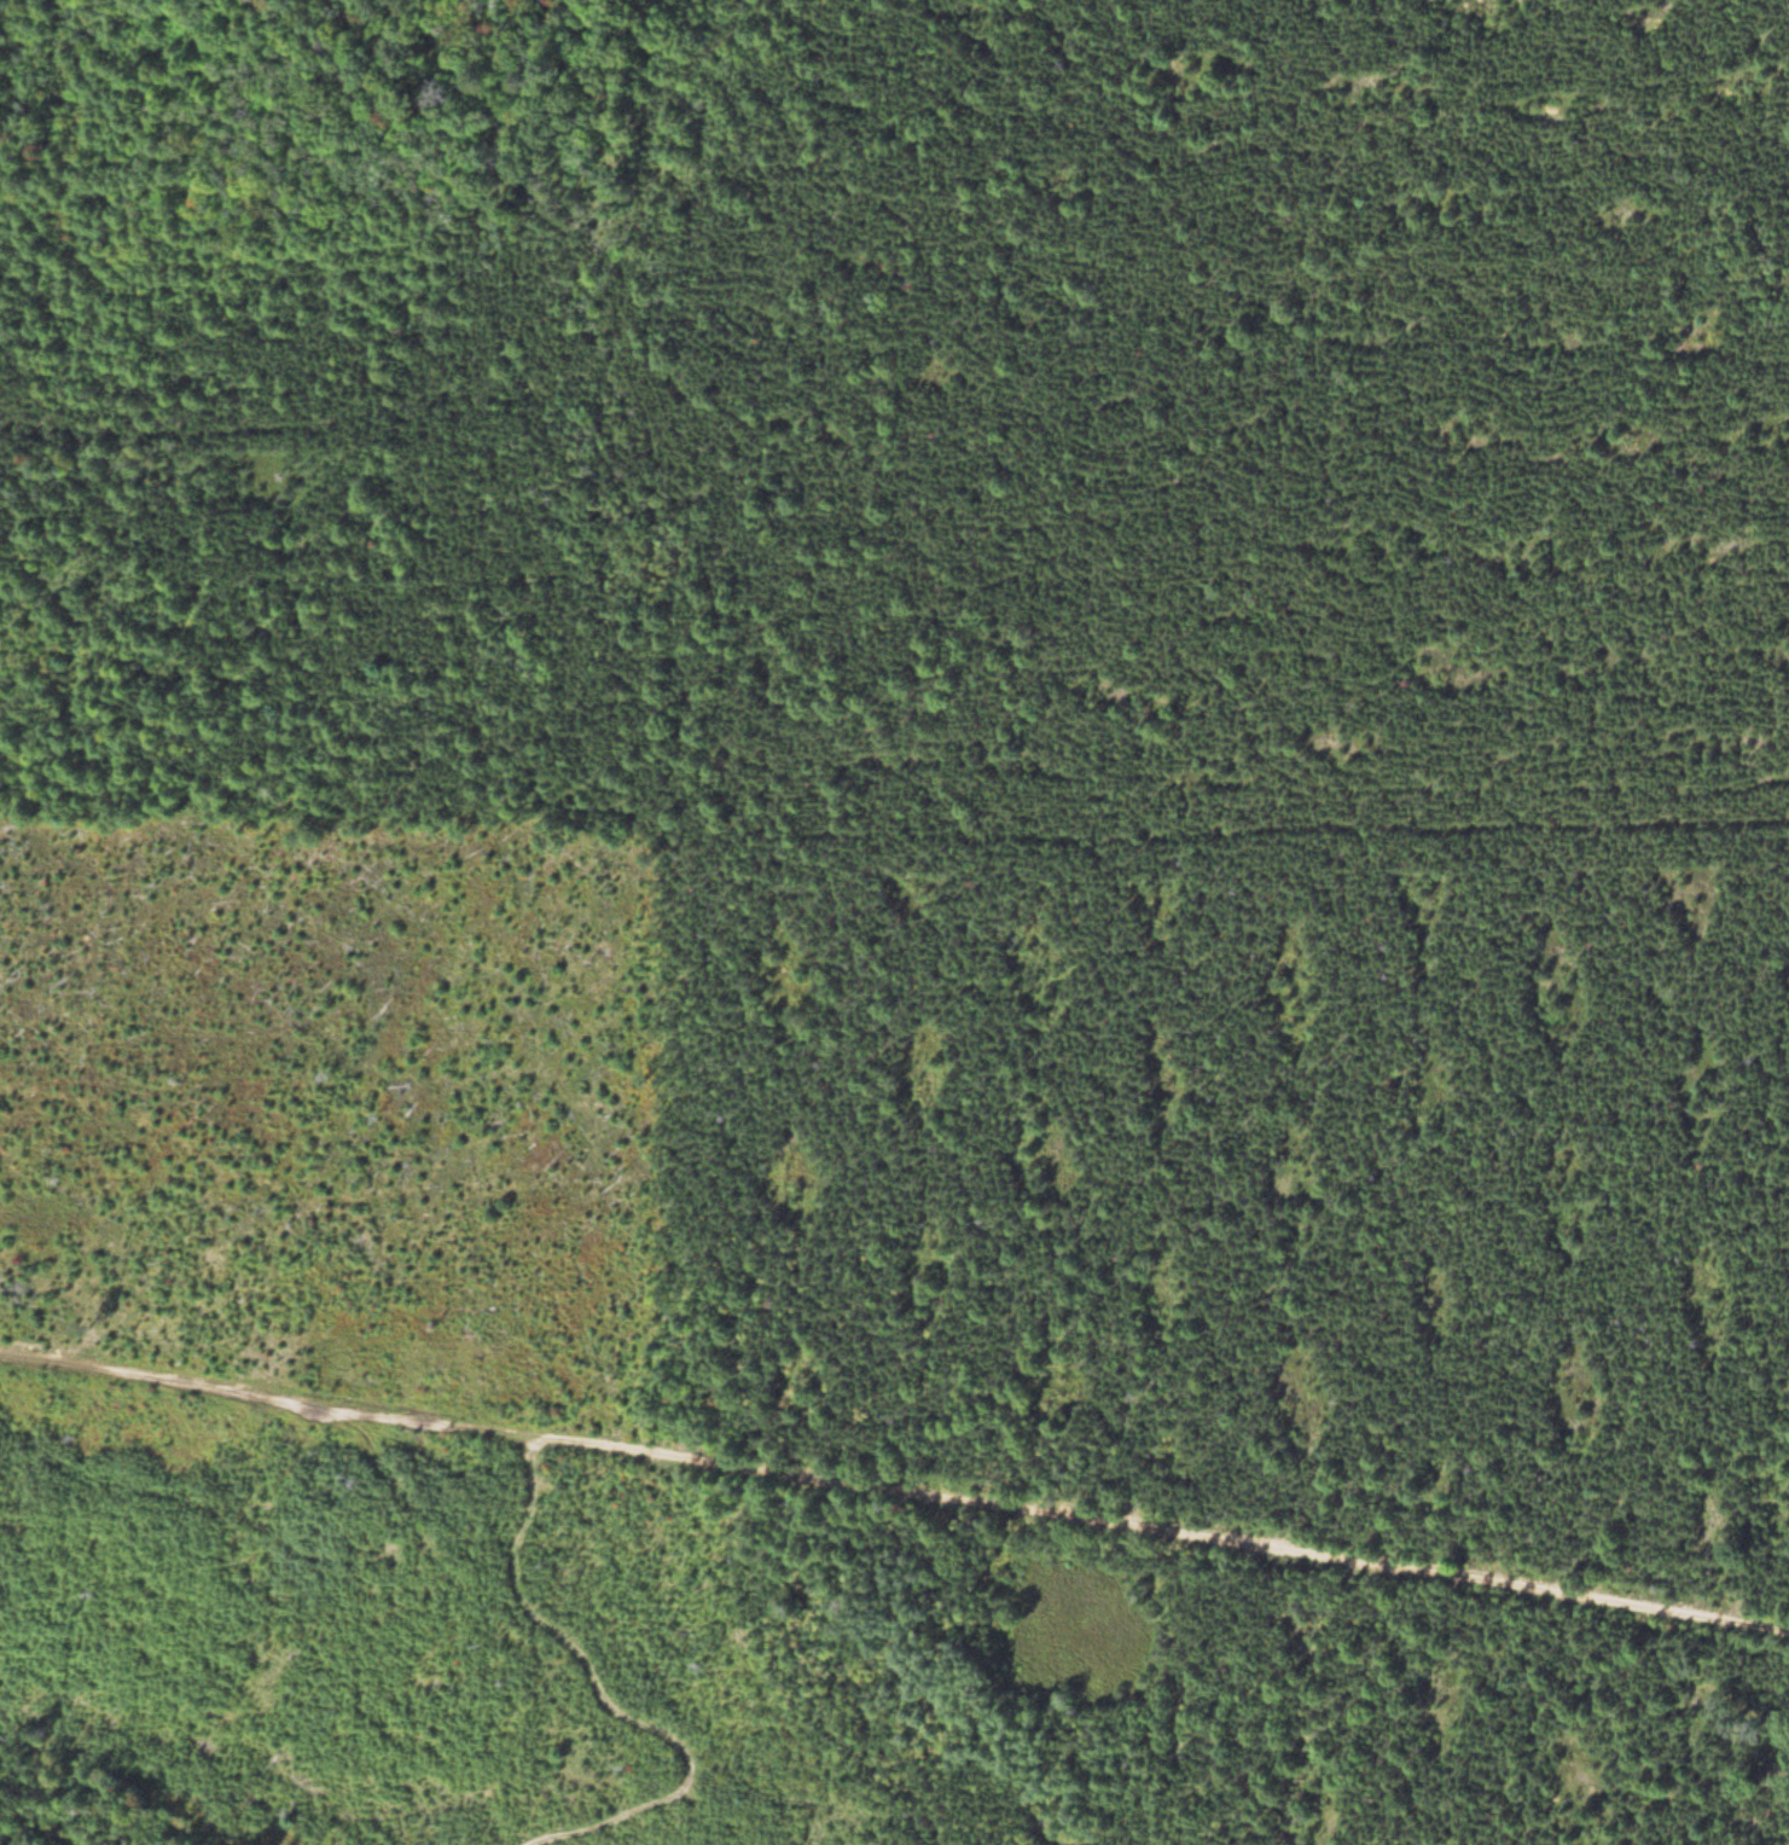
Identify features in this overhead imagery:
road: (894, 1485)

